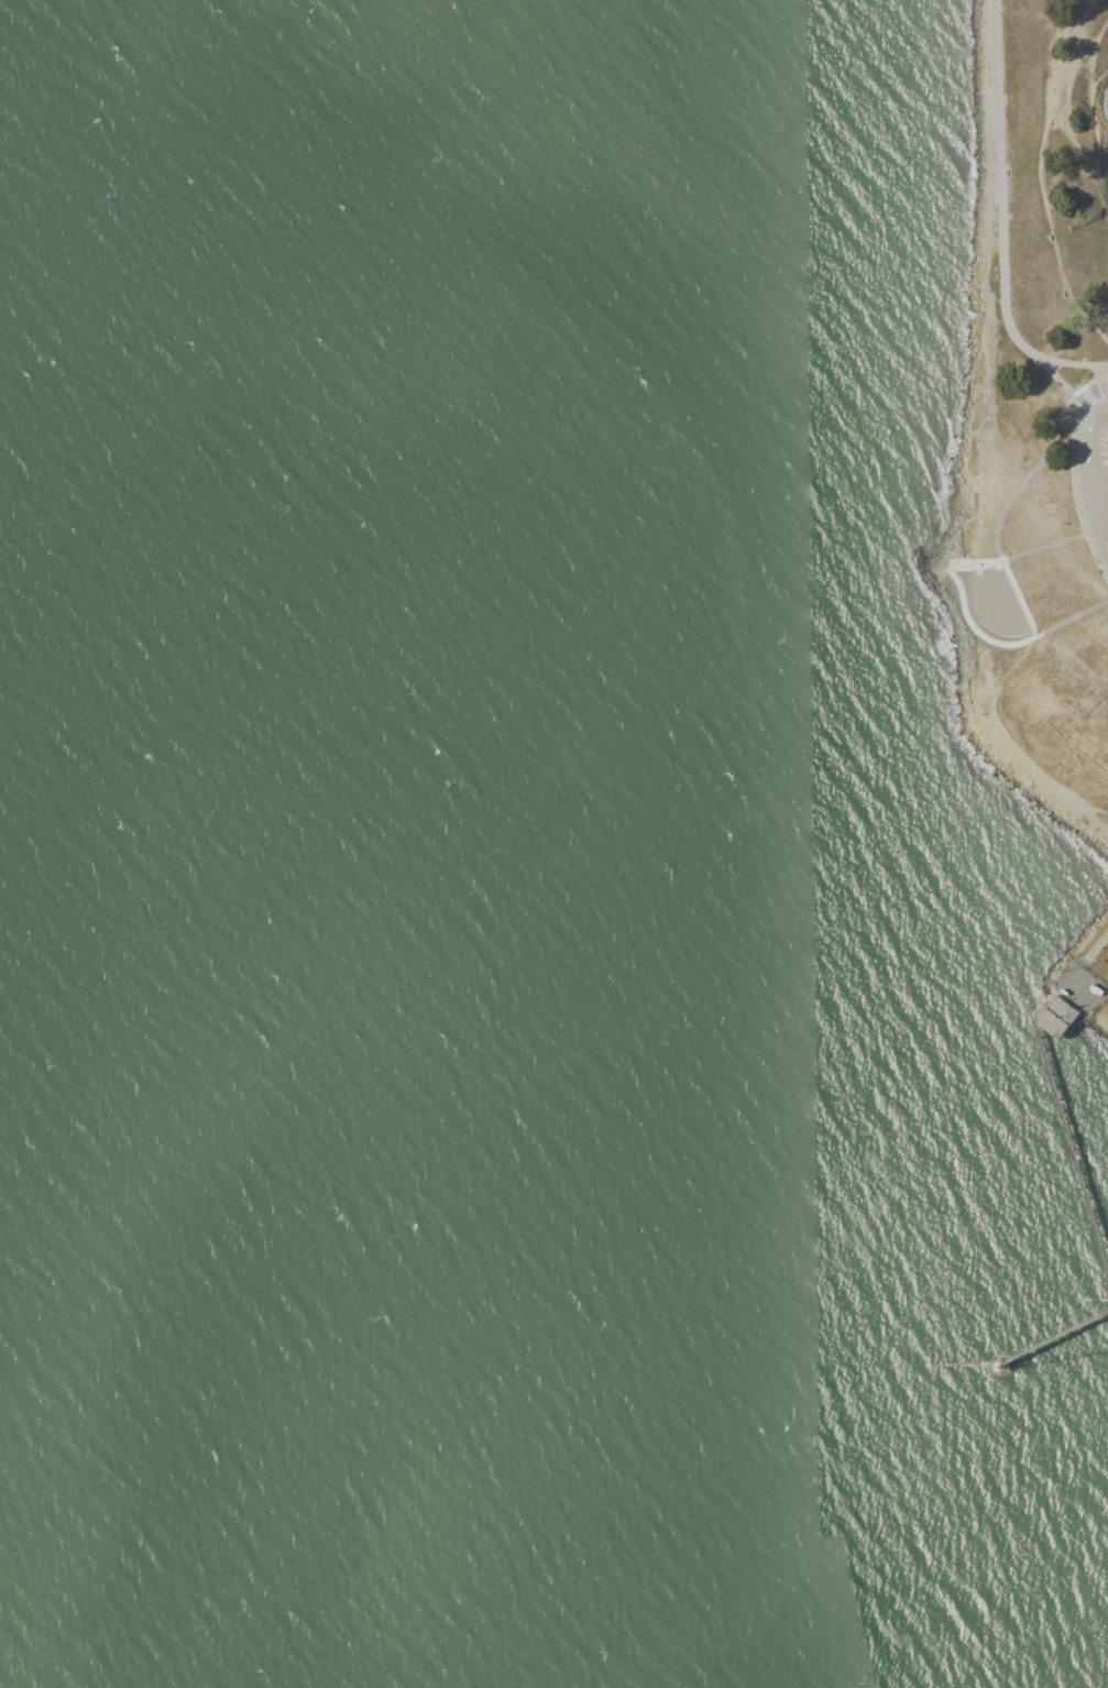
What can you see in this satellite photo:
road: (1088, 8)
road: (1094, 90)
road: (1105, 101)
road: (1079, 142)
road: (1050, 166)
road: (1005, 227)
park: (1041, 234)
road: (1089, 449)
road: (989, 465)
road: (1104, 511)
park: (1031, 638)
road: (1083, 811)
park: (1084, 978)
building: (1097, 990)
building: (1058, 1017)
pier: (1055, 1018)
pier: (1065, 1129)
pier: (1055, 1338)

